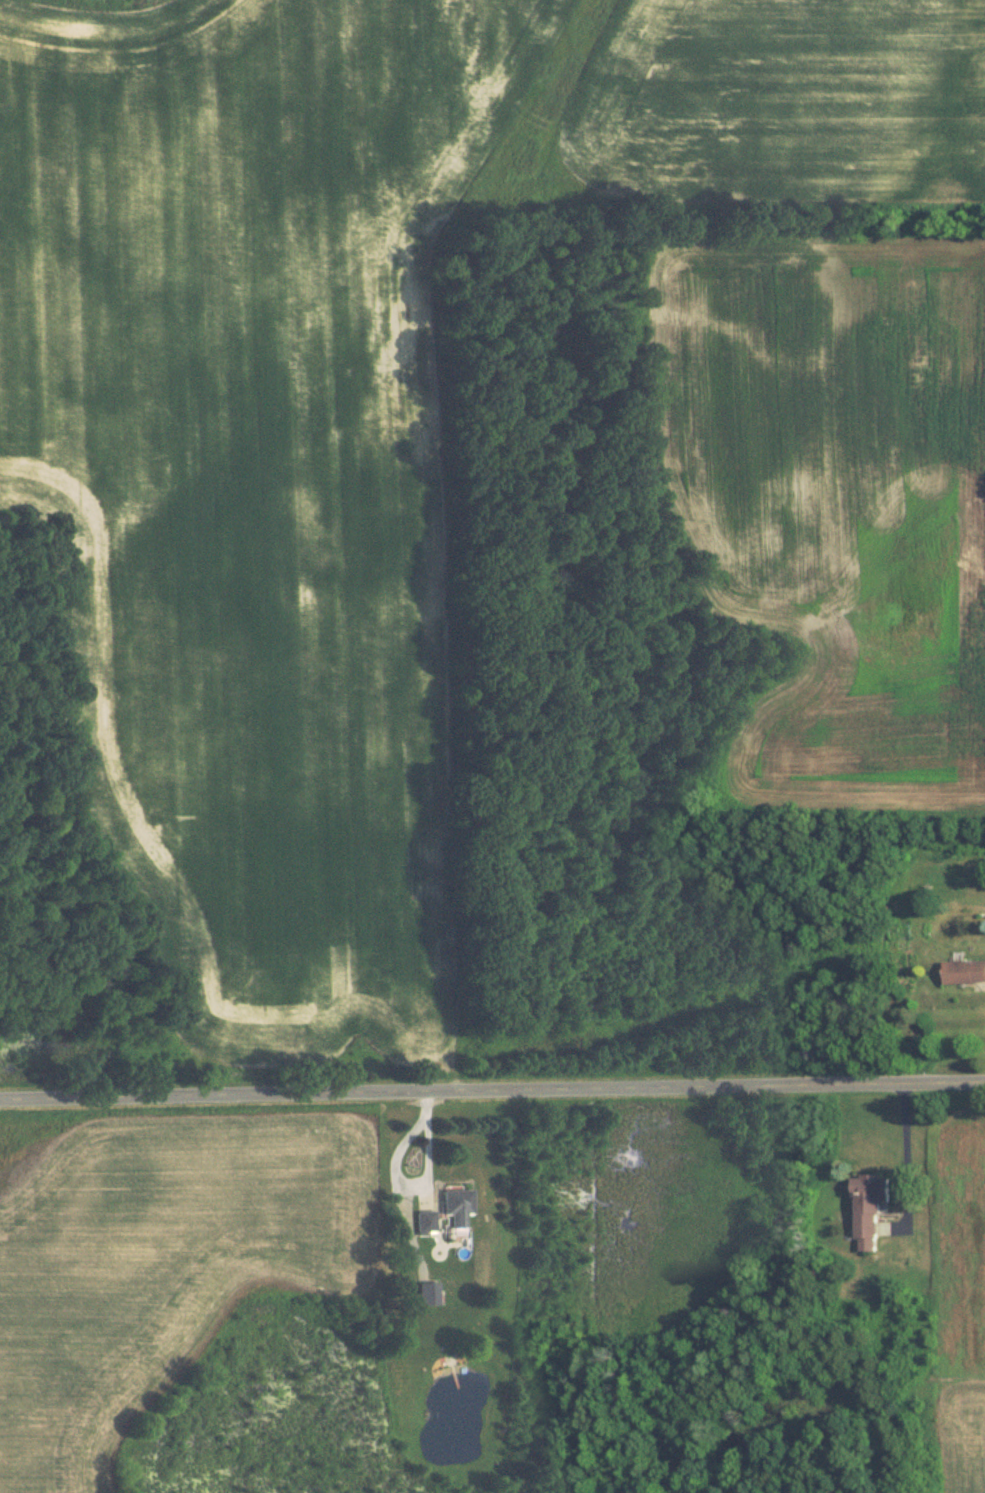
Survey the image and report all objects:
building: (963, 972)
road: (492, 1089)
building: (455, 1206)
building: (867, 1210)
building: (425, 1222)
building: (426, 1294)

